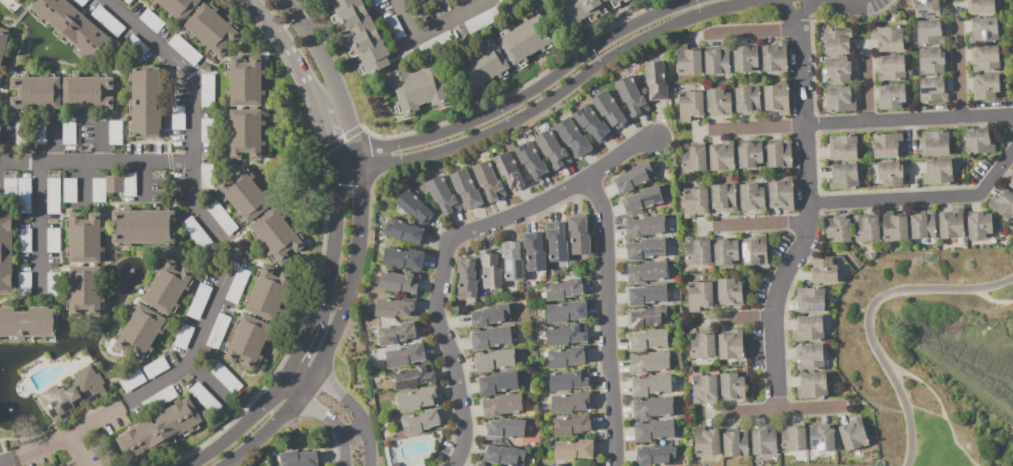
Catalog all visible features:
road: (394, 0)
road: (396, 0)
building: (16, 1)
building: (127, 1)
building: (625, 1)
building: (80, 2)
building: (377, 2)
building: (1012, 4)
building: (980, 7)
building: (176, 8)
building: (926, 8)
building: (582, 10)
building: (482, 20)
building: (151, 21)
building: (106, 22)
road: (432, 26)
building: (1012, 26)
building: (394, 28)
building: (73, 29)
road: (757, 29)
building: (211, 30)
building: (983, 30)
building: (930, 32)
building: (359, 35)
building: (888, 38)
building: (525, 39)
building: (837, 41)
building: (4, 42)
building: (436, 44)
building: (135, 46)
building: (184, 49)
road: (289, 51)
building: (774, 57)
building: (744, 58)
building: (984, 58)
building: (688, 60)
building: (717, 60)
building: (932, 60)
building: (481, 66)
building: (890, 67)
road: (958, 67)
building: (207, 69)
building: (838, 69)
road: (186, 71)
road: (328, 71)
building: (674, 76)
building: (1, 78)
building: (655, 80)
building: (245, 82)
building: (985, 87)
building: (419, 88)
building: (932, 89)
building: (35, 92)
building: (87, 92)
building: (207, 92)
road: (865, 94)
road: (522, 96)
building: (630, 96)
road: (553, 97)
building: (776, 97)
building: (891, 97)
building: (839, 99)
building: (746, 100)
building: (143, 102)
building: (718, 103)
building: (690, 105)
building: (610, 110)
road: (801, 110)
building: (179, 118)
road: (907, 121)
building: (591, 122)
road: (759, 129)
building: (207, 130)
building: (115, 132)
building: (22, 133)
building: (39, 133)
building: (68, 133)
building: (245, 133)
road: (326, 135)
building: (573, 138)
road: (55, 141)
road: (96, 141)
building: (978, 141)
building: (934, 143)
building: (886, 144)
building: (552, 148)
building: (842, 148)
building: (779, 153)
road: (619, 154)
building: (749, 154)
building: (693, 156)
building: (722, 156)
road: (95, 160)
building: (531, 160)
road: (358, 163)
building: (510, 171)
building: (937, 172)
building: (891, 173)
building: (206, 176)
building: (844, 176)
building: (634, 178)
road: (141, 179)
building: (488, 180)
building: (114, 184)
building: (129, 184)
building: (1011, 184)
building: (466, 189)
building: (98, 190)
building: (69, 191)
building: (10, 192)
building: (53, 194)
building: (244, 195)
building: (442, 195)
building: (780, 195)
building: (24, 196)
building: (751, 197)
road: (919, 197)
building: (723, 198)
building: (641, 199)
building: (694, 202)
building: (1002, 205)
building: (415, 208)
building: (222, 218)
road: (37, 221)
road: (762, 224)
building: (951, 224)
building: (922, 225)
building: (979, 225)
building: (143, 226)
building: (644, 226)
building: (893, 227)
building: (838, 228)
building: (866, 228)
building: (404, 231)
building: (196, 233)
building: (579, 234)
building: (276, 235)
building: (52, 237)
building: (84, 238)
building: (23, 239)
road: (333, 239)
building: (556, 241)
building: (645, 249)
building: (697, 250)
building: (534, 251)
building: (725, 251)
building: (754, 251)
building: (6, 252)
building: (402, 258)
road: (852, 261)
building: (512, 263)
building: (490, 272)
building: (646, 272)
building: (822, 272)
building: (467, 279)
road: (439, 280)
building: (398, 282)
building: (24, 284)
building: (53, 284)
building: (510, 285)
building: (237, 286)
building: (168, 288)
building: (564, 289)
building: (85, 290)
building: (729, 292)
building: (267, 293)
building: (647, 294)
building: (699, 295)
building: (809, 300)
building: (198, 301)
road: (994, 302)
building: (394, 308)
building: (566, 312)
road: (774, 312)
building: (490, 315)
building: (647, 317)
road: (871, 318)
road: (606, 320)
building: (28, 322)
road: (747, 322)
building: (808, 329)
building: (140, 331)
building: (218, 332)
building: (397, 333)
building: (566, 334)
building: (183, 336)
building: (490, 337)
road: (332, 340)
building: (648, 340)
building: (248, 341)
road: (305, 341)
building: (702, 343)
building: (731, 345)
building: (405, 355)
park: (875, 355)
building: (808, 356)
building: (566, 357)
building: (494, 360)
building: (649, 362)
road: (185, 364)
building: (155, 367)
building: (414, 377)
road: (204, 378)
building: (226, 378)
building: (569, 380)
building: (132, 381)
building: (498, 383)
building: (651, 385)
building: (811, 386)
building: (731, 387)
building: (704, 389)
building: (72, 394)
building: (205, 398)
building: (159, 399)
building: (417, 399)
building: (569, 402)
road: (345, 405)
building: (501, 405)
road: (893, 406)
building: (652, 407)
road: (943, 408)
road: (783, 409)
road: (247, 418)
building: (421, 421)
road: (331, 425)
building: (572, 425)
road: (349, 428)
building: (505, 429)
building: (529, 429)
building: (160, 430)
building: (653, 431)
building: (853, 434)
building: (793, 438)
building: (822, 439)
building: (764, 440)
building: (706, 441)
building: (735, 443)
building: (573, 449)
road: (78, 451)
building: (504, 455)
building: (655, 455)
building: (803, 458)
building: (300, 459)
building: (773, 459)
building: (395, 464)
building: (480, 464)
park: (817, 464)
building: (555, 465)

